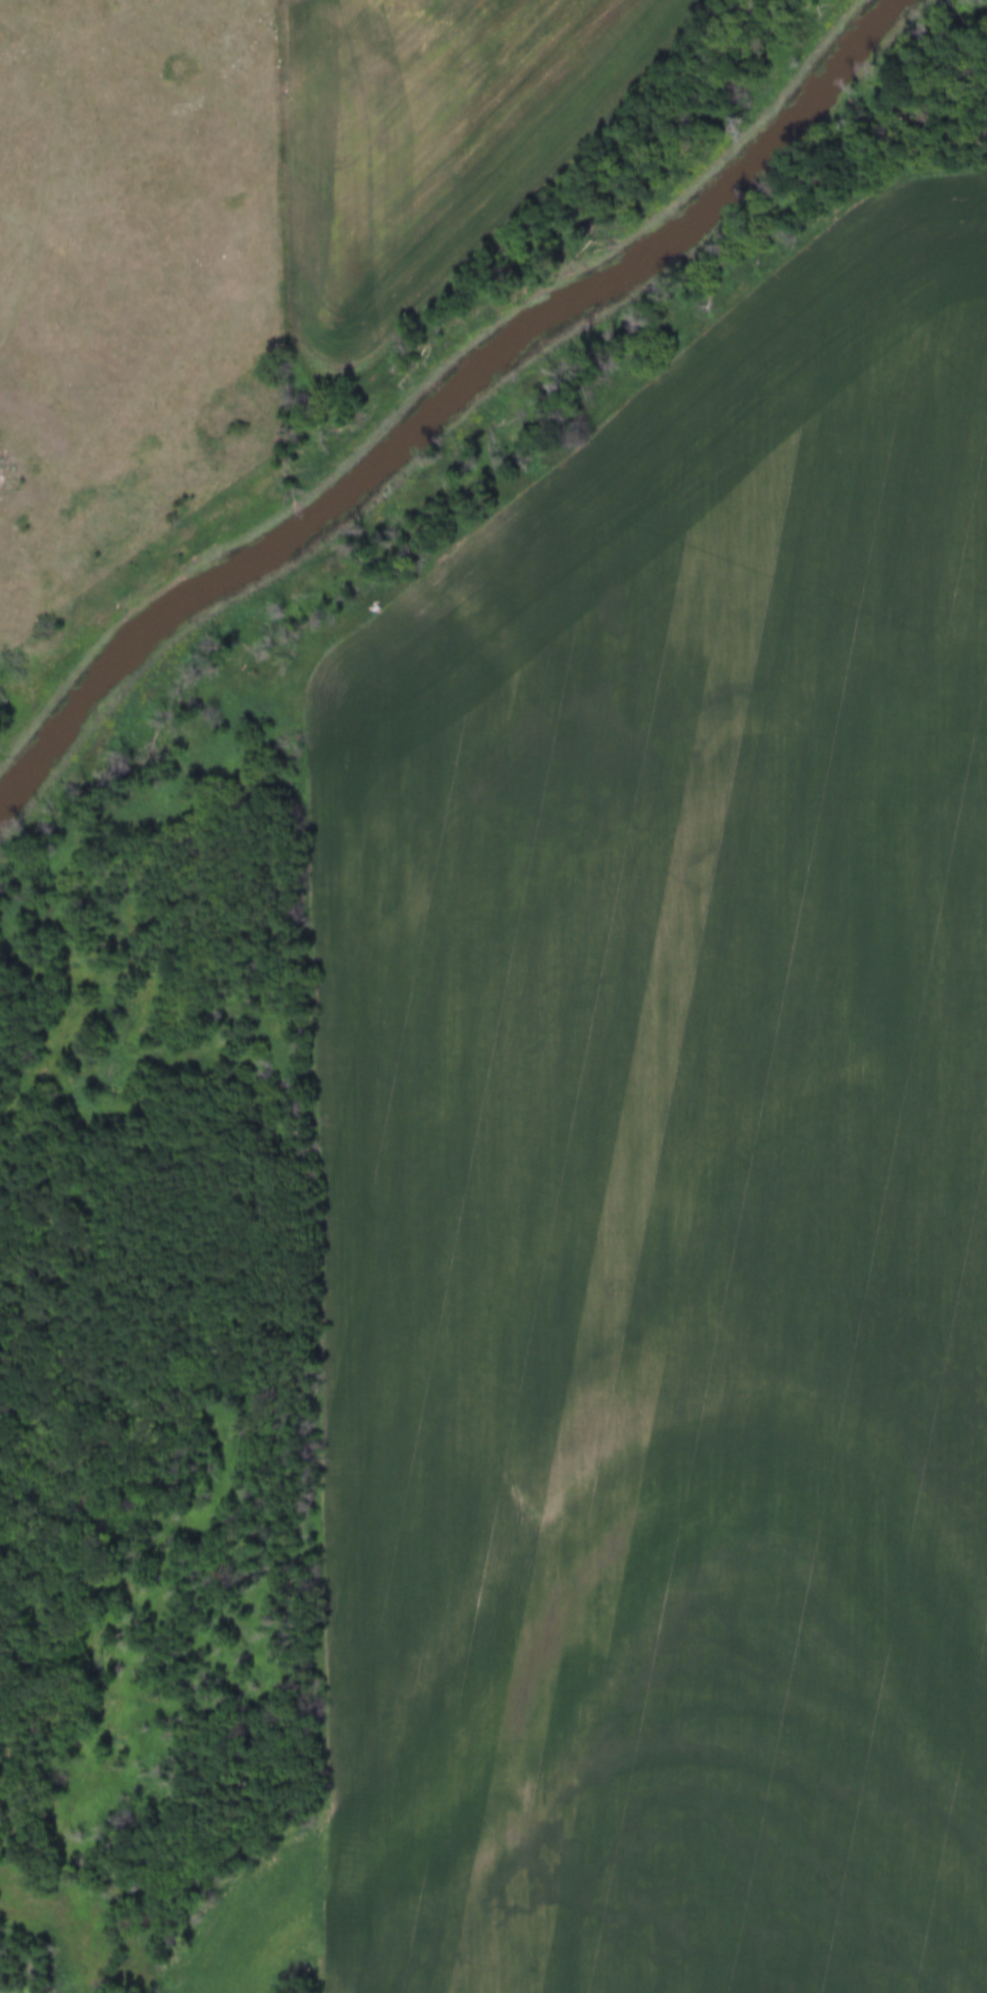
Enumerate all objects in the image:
river: (433, 393)

